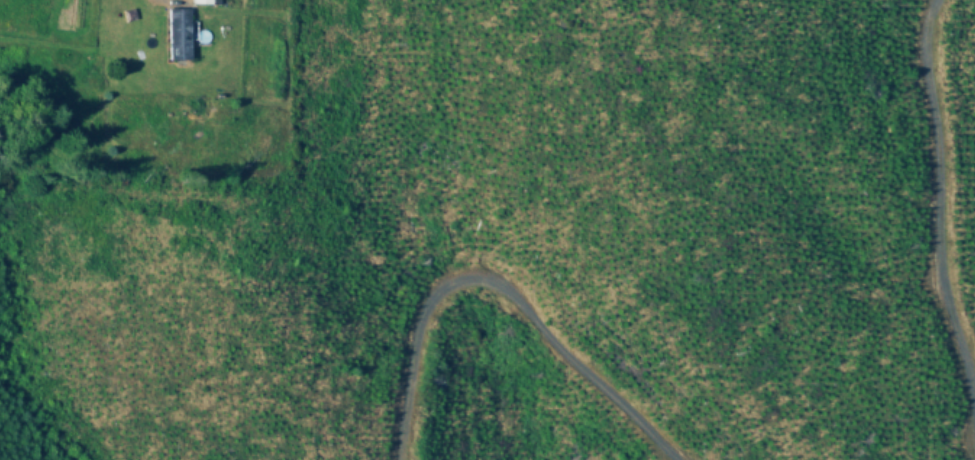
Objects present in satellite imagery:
building: (206, 2)
building: (179, 35)

